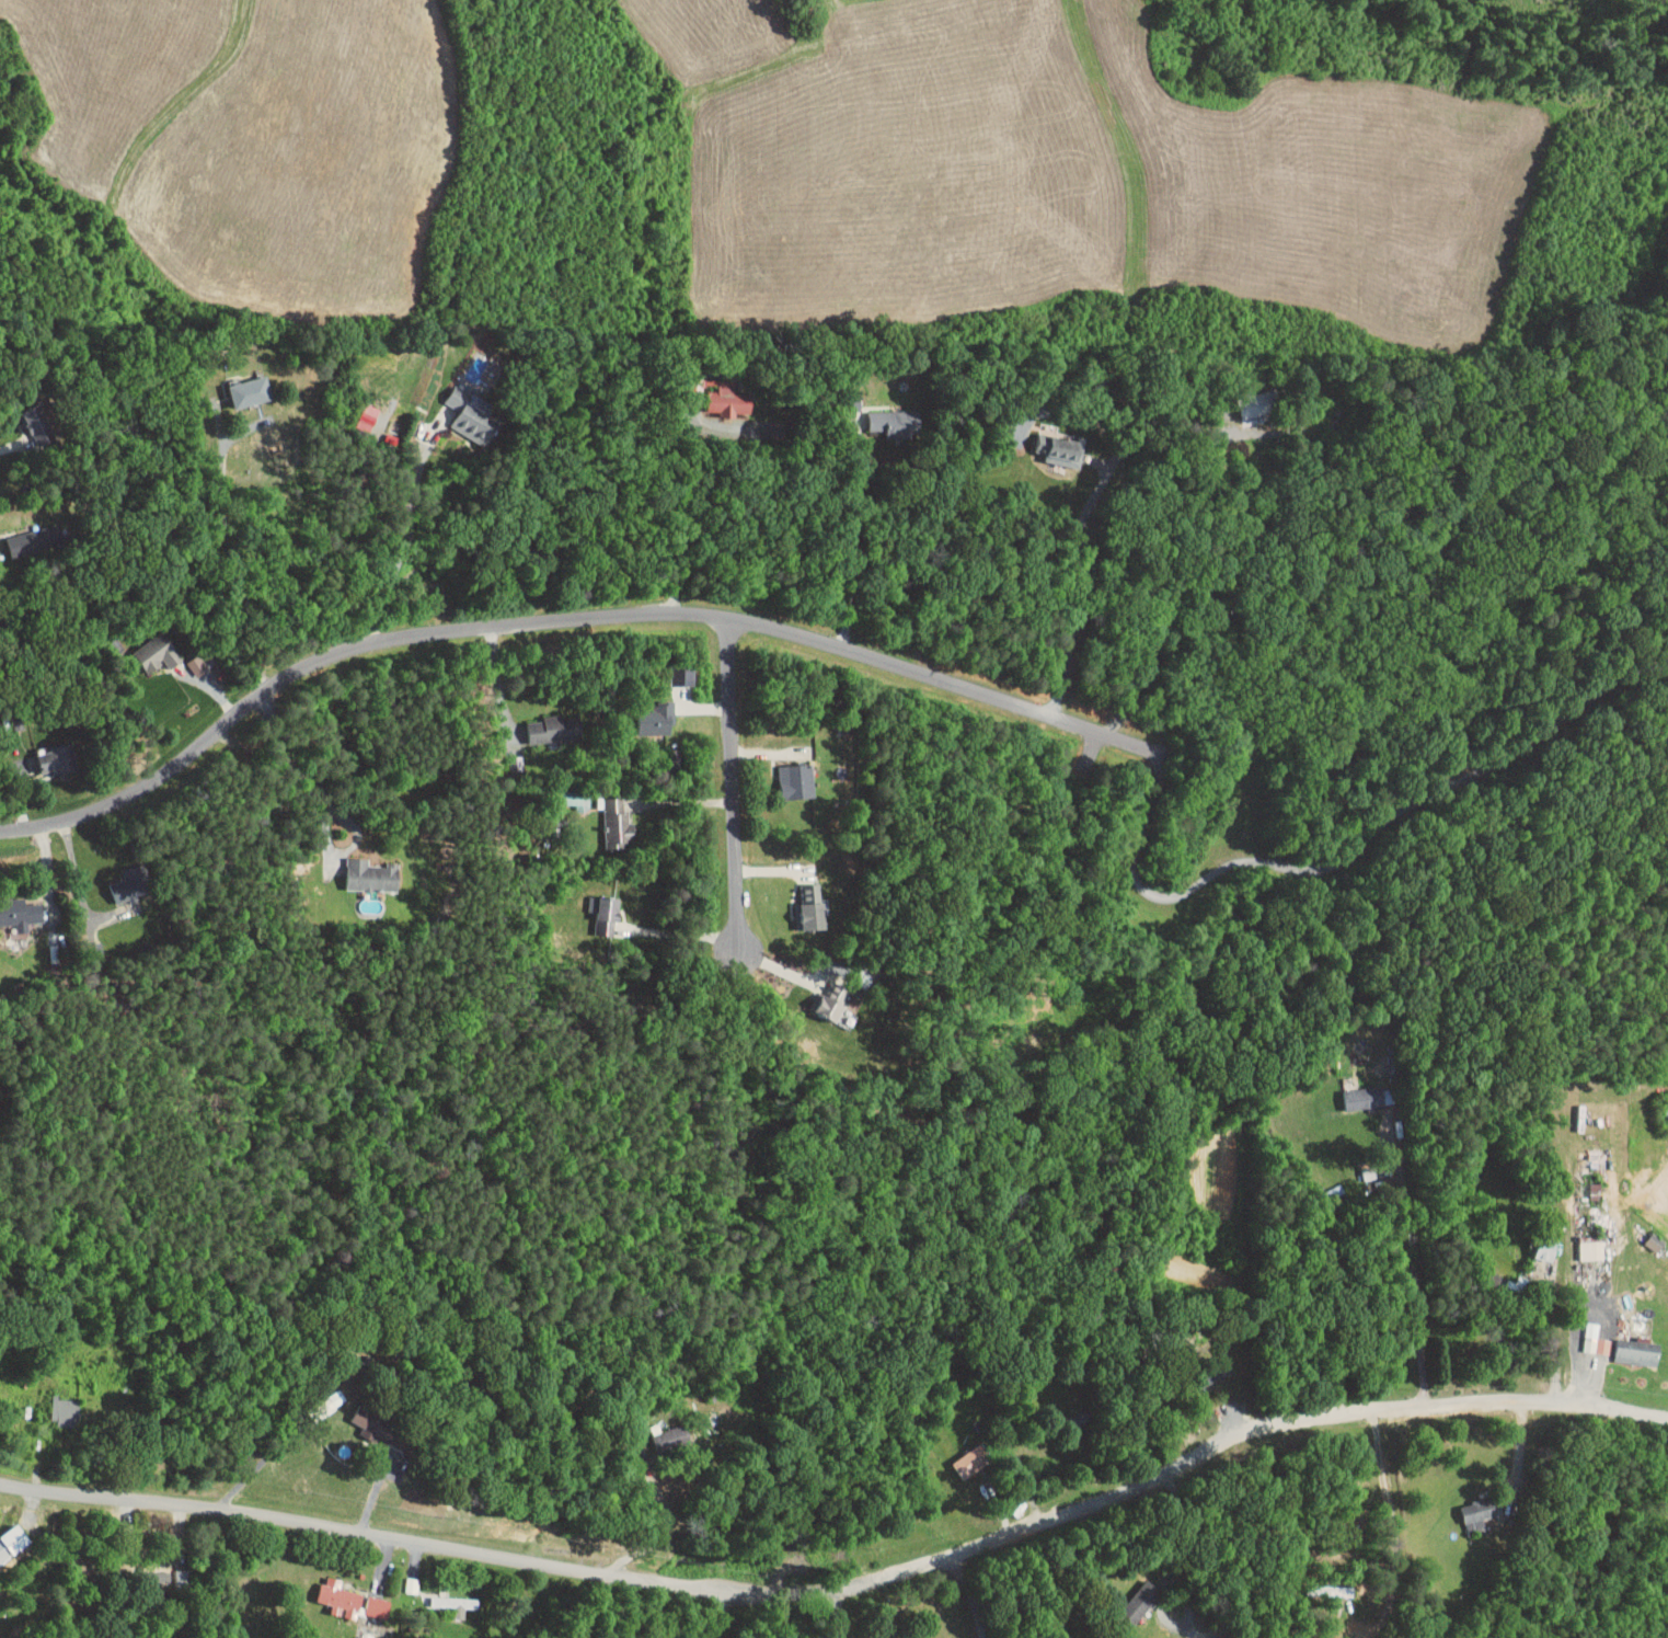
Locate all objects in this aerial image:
building: (240, 383)
building: (718, 392)
building: (357, 410)
building: (884, 415)
building: (31, 416)
building: (1048, 442)
road: (1121, 451)
road: (741, 506)
building: (24, 532)
road: (849, 537)
road: (404, 542)
road: (238, 560)
road: (1272, 581)
road: (1079, 597)
road: (561, 618)
building: (146, 645)
road: (1067, 663)
road: (499, 681)
building: (649, 713)
building: (536, 722)
building: (45, 753)
building: (786, 774)
road: (680, 801)
road: (327, 802)
building: (606, 815)
road: (733, 835)
road: (1351, 852)
building: (360, 868)
building: (120, 875)
road: (80, 885)
building: (804, 901)
building: (598, 906)
building: (15, 907)
road: (671, 931)
building: (825, 996)
building: (1364, 1098)
building: (1655, 1241)
building: (1590, 1248)
road: (1414, 1263)
road: (1551, 1338)
building: (1597, 1344)
building: (1636, 1350)
building: (359, 1418)
road: (1520, 1456)
building: (962, 1459)
road: (261, 1463)
building: (1479, 1514)
road: (1394, 1516)
building: (8, 1533)
road: (666, 1534)
road: (1170, 1576)
road: (845, 1585)
building: (1331, 1590)
building: (330, 1591)
road: (969, 1595)
building: (445, 1596)
building: (366, 1600)
road: (837, 1613)
building: (1218, 1636)

